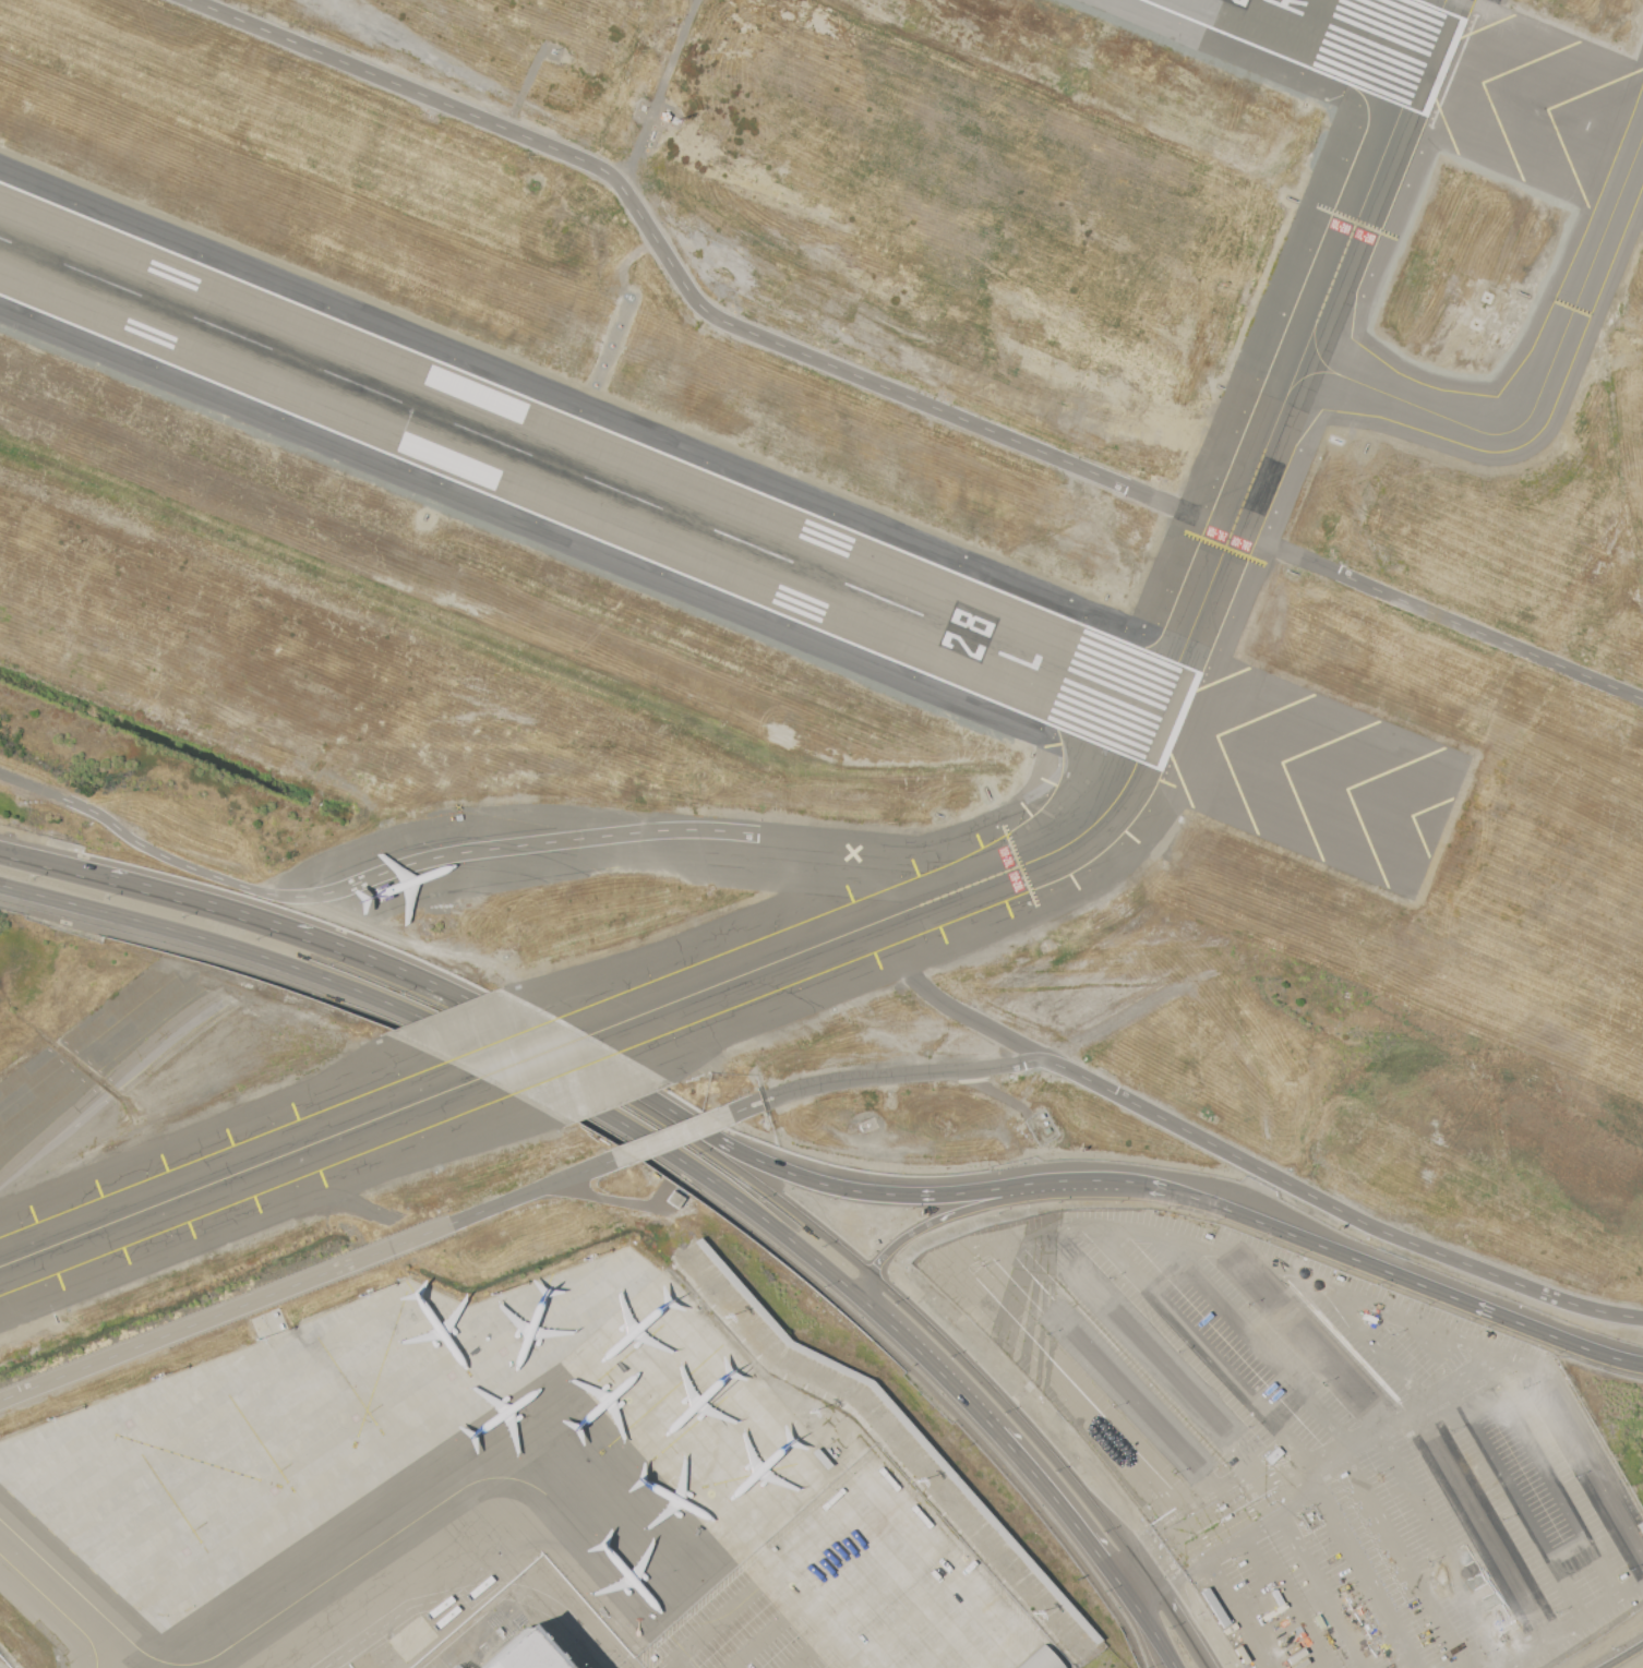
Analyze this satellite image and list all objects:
airport taxiway: (1410, 33)
airport runway: (1365, 35)
airport taxiway: (1393, 68)
road: (697, 295)
airport taxiway: (1317, 352)
airport taxiway: (1302, 356)
airport taxiway: (1309, 374)
airport taxiway: (1548, 376)
airport runway: (592, 480)
airport taxiway: (1122, 680)
airport taxiway: (1117, 744)
airport: (821, 833)
road: (552, 840)
road: (53, 868)
road: (208, 910)
airport taxiway: (907, 910)
road: (478, 1011)
airport taxiway: (535, 1056)
road: (540, 1078)
road: (668, 1135)
road: (1194, 1135)
road: (653, 1166)
airport taxiway: (240, 1172)
road: (809, 1183)
road: (1050, 1187)
road: (957, 1215)
road: (1374, 1268)
road: (302, 1279)
road: (909, 1310)
road: (1000, 1317)
road: (1260, 1341)
road: (1316, 1341)
road: (1377, 1344)
road: (1206, 1348)
road: (1104, 1365)
road: (1444, 1387)
parking lot: (1317, 1443)
road: (1550, 1478)
road: (871, 1488)
airport apron: (509, 1495)
road: (1055, 1501)
road: (1515, 1501)
road: (1294, 1507)
toll booth: (1238, 1511)
road: (1479, 1525)
road: (1446, 1547)
road: (1402, 1559)
road: (1140, 1564)
road: (1268, 1580)
road: (814, 1587)
parking lot: (851, 1589)
road: (1322, 1591)
road: (859, 1604)
road: (1173, 1616)
road: (819, 1619)
road: (906, 1621)
road: (1576, 1621)
road: (1144, 1622)
airport taxiway: (263, 1623)
building: (523, 1655)
road: (1316, 1656)
road: (1622, 1656)
building: (1042, 1659)

